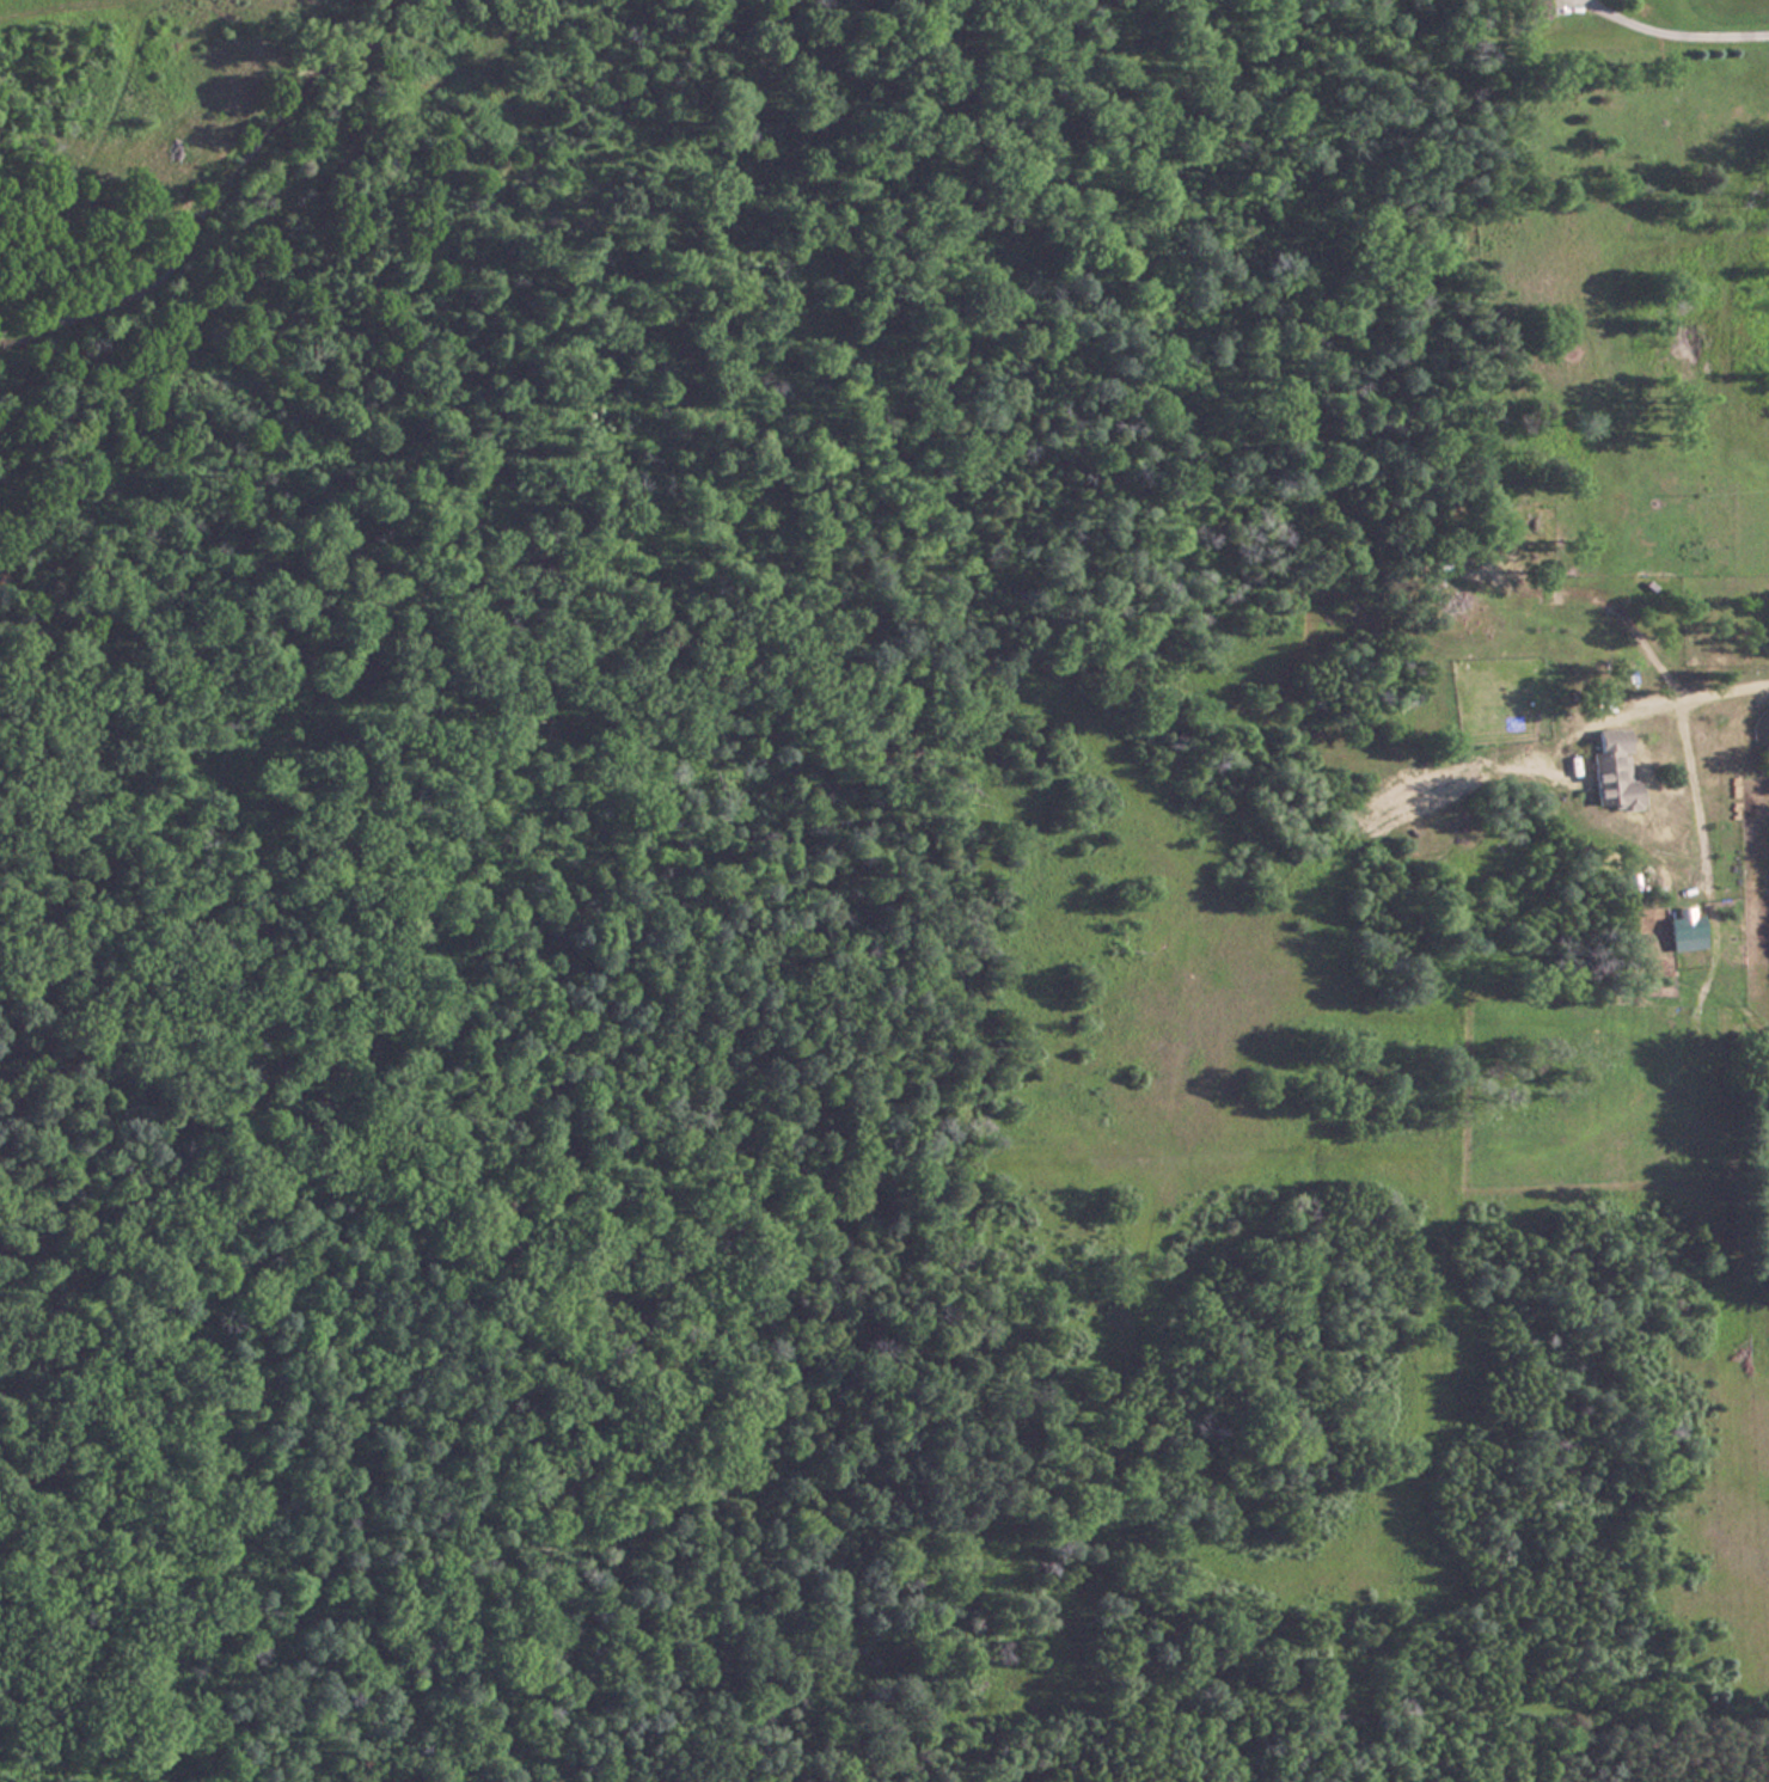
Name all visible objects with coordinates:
building: (1532, 10)
road: (1670, 30)
road: (1709, 688)
building: (1609, 739)
building: (1605, 785)

